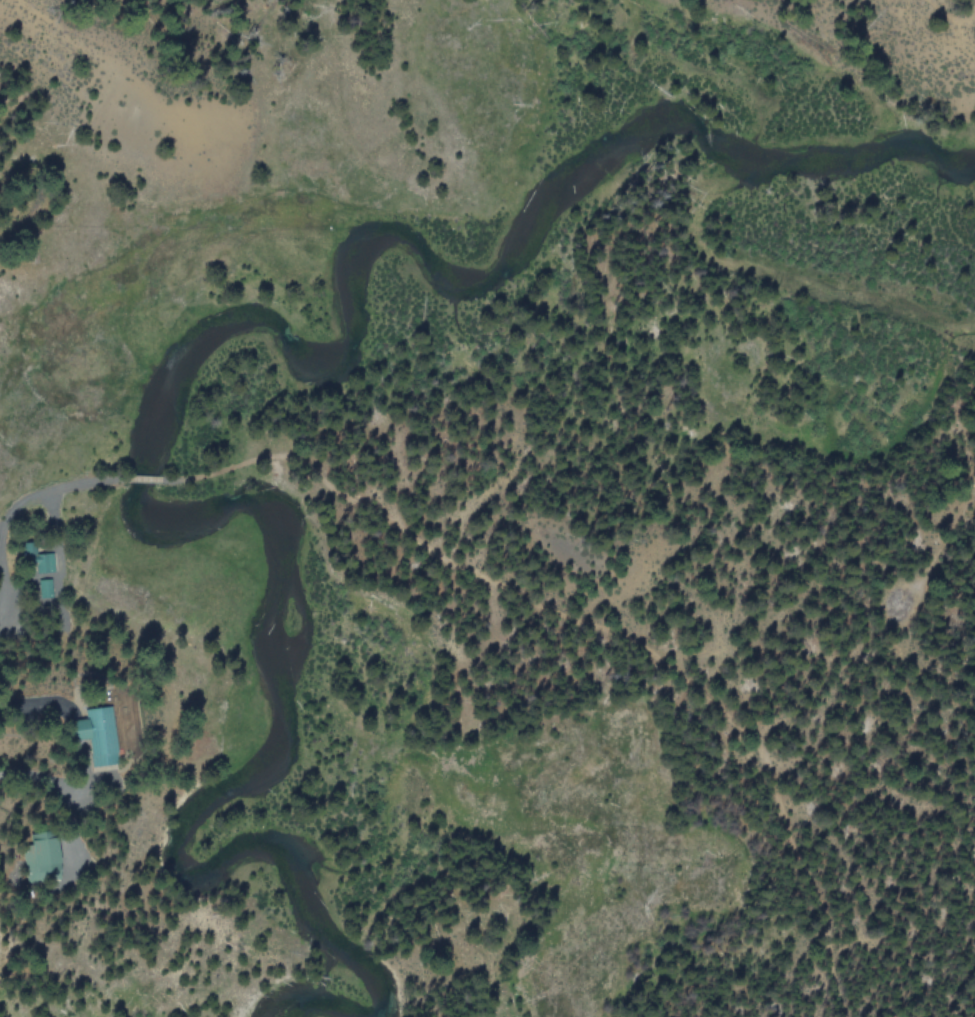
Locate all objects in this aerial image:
river: (182, 370)
road: (28, 701)
building: (101, 735)
building: (46, 853)

